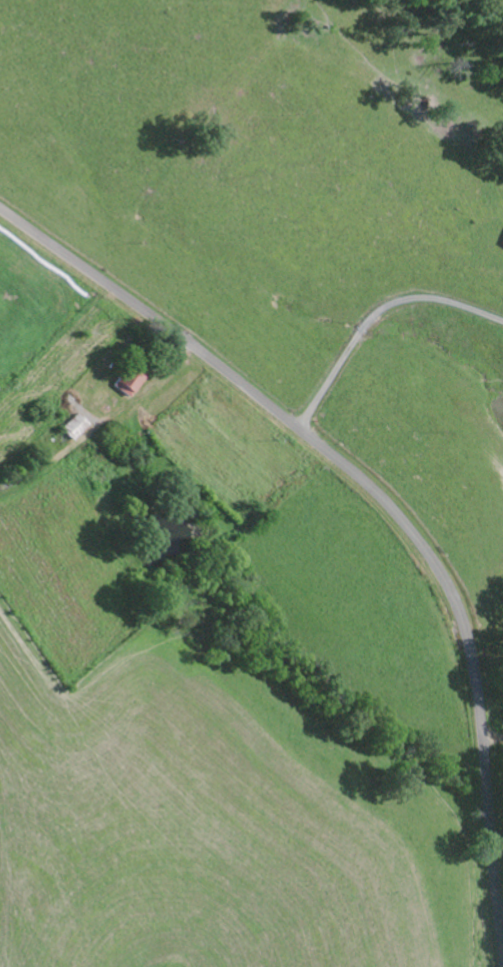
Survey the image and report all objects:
road: (375, 315)
building: (131, 384)
road: (387, 503)

